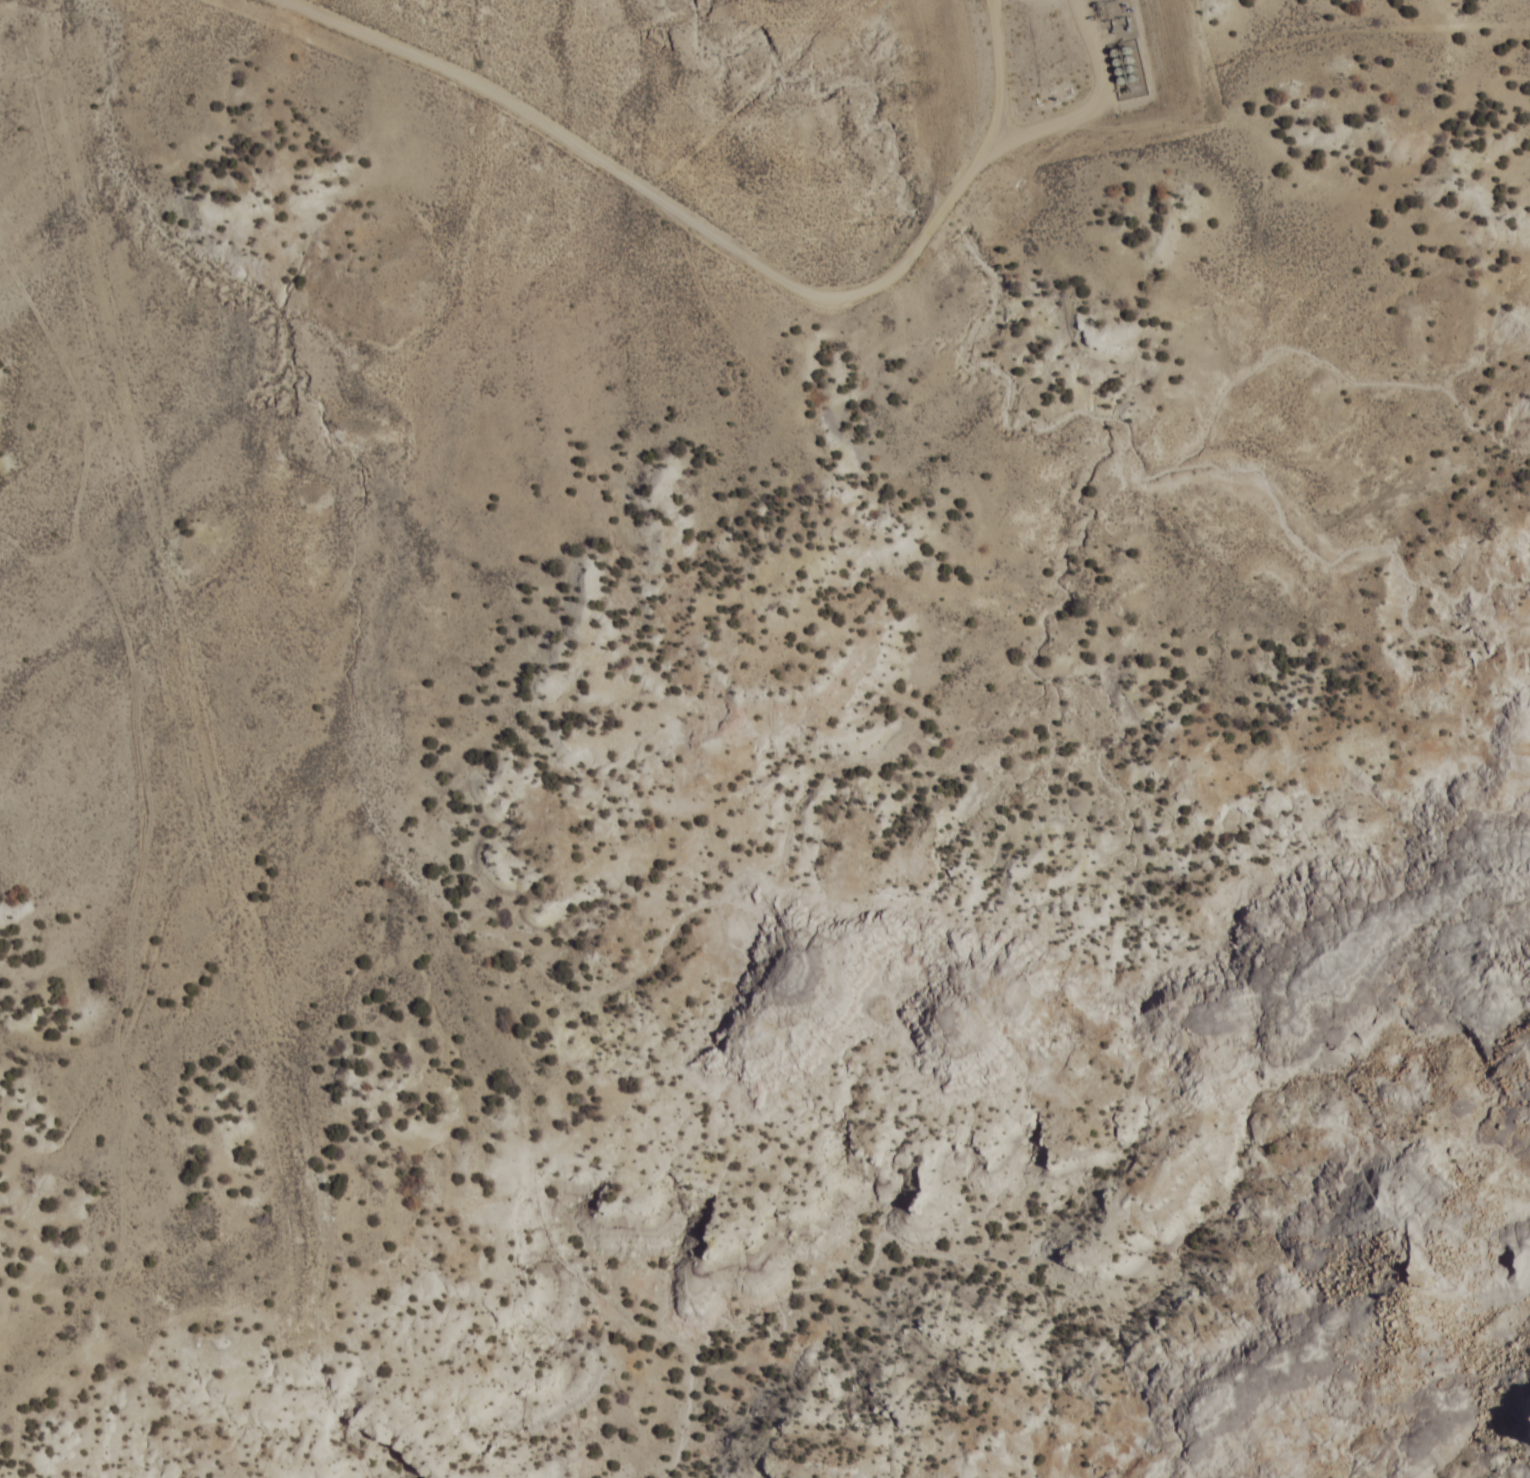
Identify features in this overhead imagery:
road: (593, 105)

